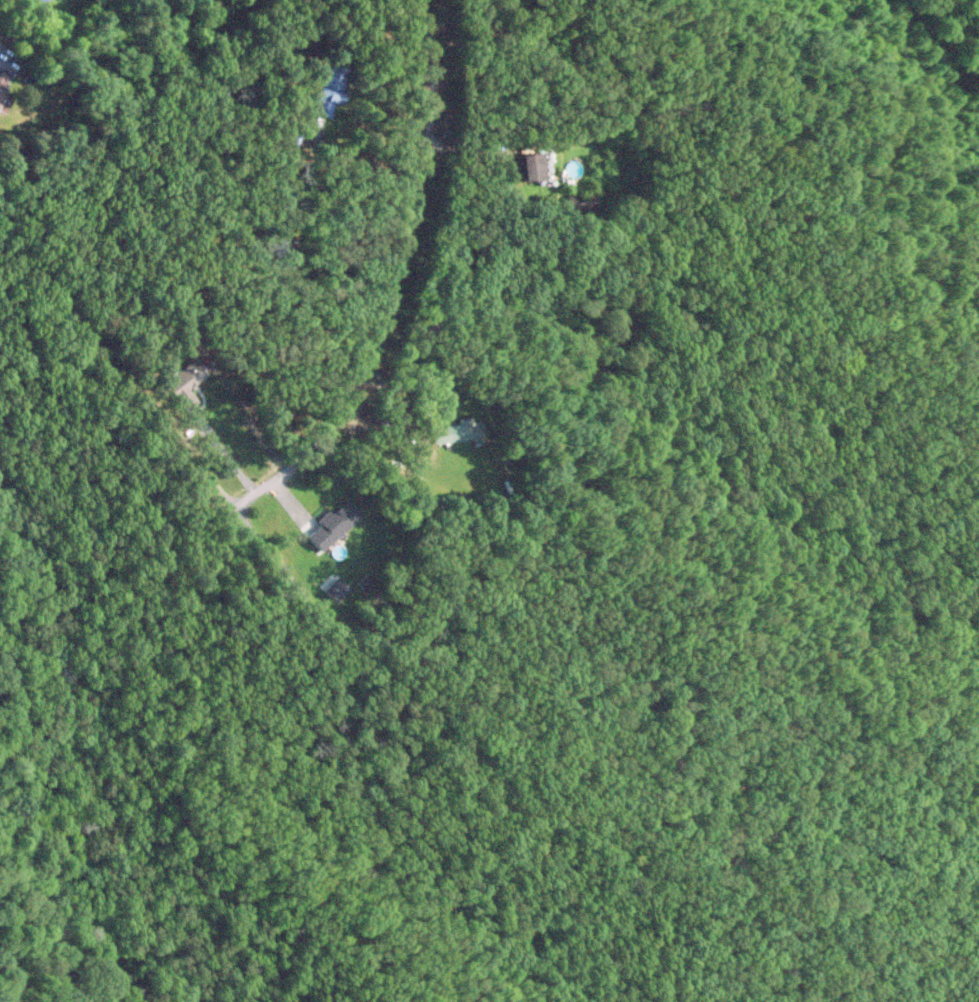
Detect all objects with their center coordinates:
building: (4, 84)
building: (328, 90)
building: (530, 167)
building: (276, 247)
road: (382, 275)
building: (187, 376)
building: (458, 431)
building: (333, 525)

